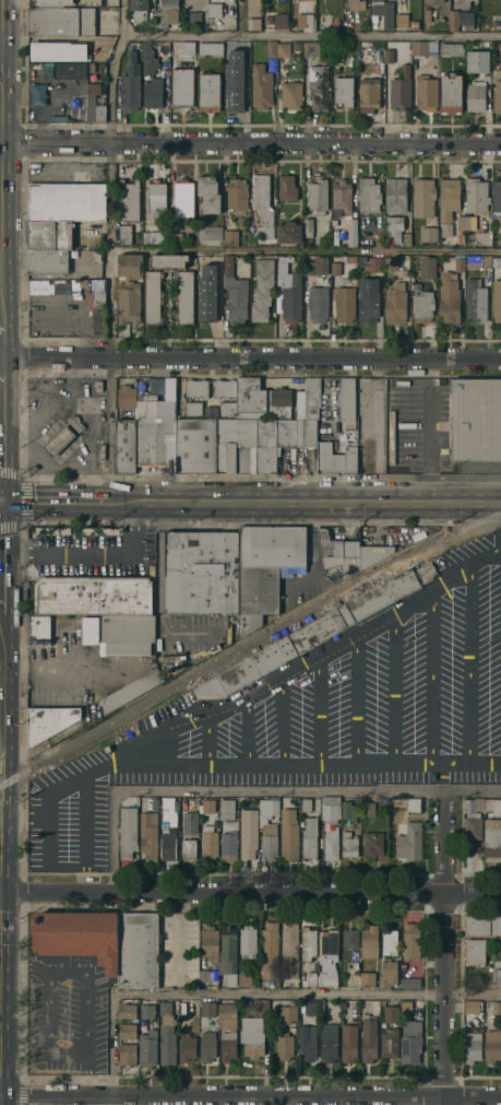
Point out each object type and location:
building: (52, 1)
building: (433, 1)
building: (356, 3)
building: (239, 4)
building: (214, 8)
building: (140, 9)
building: (383, 11)
building: (167, 12)
building: (194, 16)
building: (460, 17)
building: (267, 19)
building: (363, 19)
building: (403, 19)
building: (61, 20)
building: (281, 20)
building: (305, 21)
building: (335, 21)
building: (254, 23)
road: (312, 35)
building: (297, 43)
building: (187, 46)
building: (422, 46)
building: (210, 47)
building: (310, 47)
building: (451, 47)
building: (271, 48)
building: (283, 48)
building: (58, 49)
road: (1, 51)
building: (372, 52)
building: (337, 55)
building: (389, 55)
building: (242, 56)
building: (148, 57)
building: (477, 60)
building: (72, 69)
road: (111, 70)
building: (486, 75)
building: (130, 82)
building: (261, 85)
building: (318, 85)
building: (181, 86)
building: (232, 87)
building: (401, 89)
building: (343, 90)
building: (152, 91)
building: (208, 91)
building: (426, 91)
building: (368, 92)
building: (451, 92)
building: (497, 93)
building: (37, 94)
building: (290, 94)
building: (475, 95)
building: (93, 103)
road: (58, 143)
road: (307, 143)
road: (2, 160)
building: (286, 186)
building: (236, 191)
building: (208, 192)
building: (341, 193)
building: (368, 193)
building: (395, 193)
building: (476, 193)
building: (318, 195)
building: (422, 196)
building: (156, 197)
building: (183, 197)
building: (448, 197)
building: (129, 199)
building: (65, 200)
building: (497, 200)
building: (262, 205)
building: (461, 221)
building: (308, 225)
building: (393, 228)
building: (446, 228)
building: (350, 230)
building: (210, 231)
building: (289, 231)
building: (129, 233)
building: (428, 233)
building: (49, 234)
building: (146, 236)
building: (230, 236)
building: (176, 237)
building: (406, 237)
road: (307, 248)
road: (112, 251)
building: (284, 257)
building: (351, 258)
building: (168, 259)
building: (47, 260)
building: (216, 260)
building: (497, 260)
building: (477, 261)
building: (374, 262)
building: (129, 263)
building: (228, 263)
building: (309, 263)
building: (321, 263)
building: (458, 263)
building: (281, 266)
building: (390, 266)
building: (428, 266)
building: (335, 267)
building: (262, 287)
building: (289, 294)
building: (152, 295)
building: (183, 295)
building: (96, 296)
building: (448, 297)
building: (368, 298)
building: (475, 298)
building: (237, 299)
building: (497, 299)
building: (345, 301)
building: (128, 302)
building: (318, 302)
building: (395, 302)
building: (206, 304)
building: (422, 305)
road: (1, 339)
road: (56, 360)
road: (307, 360)
road: (0, 367)
road: (43, 375)
building: (148, 386)
building: (195, 387)
road: (71, 389)
building: (126, 395)
building: (215, 396)
building: (251, 397)
building: (346, 397)
building: (309, 398)
building: (278, 400)
road: (39, 405)
building: (193, 407)
building: (166, 411)
building: (210, 412)
road: (0, 415)
building: (476, 419)
road: (19, 421)
building: (74, 422)
building: (349, 423)
road: (112, 430)
building: (307, 432)
building: (58, 439)
building: (154, 439)
building: (273, 440)
building: (123, 444)
building: (196, 445)
building: (226, 445)
building: (246, 445)
road: (430, 446)
building: (365, 455)
building: (335, 458)
road: (59, 462)
road: (40, 480)
road: (57, 501)
road: (307, 502)
building: (159, 542)
building: (330, 548)
road: (93, 552)
building: (361, 554)
building: (266, 567)
road: (0, 571)
building: (151, 571)
building: (201, 572)
building: (92, 593)
building: (381, 595)
building: (234, 628)
building: (38, 630)
building: (90, 631)
building: (126, 633)
railway: (248, 645)
road: (325, 648)
building: (276, 653)
road: (0, 667)
road: (61, 667)
road: (468, 668)
road: (1, 673)
road: (431, 679)
building: (210, 686)
building: (132, 689)
road: (392, 689)
parking lot: (357, 697)
road: (357, 698)
road: (321, 708)
building: (49, 720)
road: (278, 720)
road: (244, 729)
road: (1, 740)
road: (205, 740)
road: (278, 767)
road: (466, 767)
road: (442, 777)
road: (70, 786)
road: (473, 787)
road: (229, 788)
building: (186, 802)
building: (306, 803)
building: (413, 803)
building: (155, 804)
building: (482, 804)
building: (206, 806)
building: (226, 808)
building: (368, 808)
building: (168, 810)
building: (347, 811)
parking lot: (71, 816)
building: (190, 819)
building: (214, 819)
building: (330, 825)
building: (473, 825)
building: (267, 826)
building: (127, 831)
building: (248, 832)
building: (288, 833)
road: (85, 835)
building: (148, 835)
road: (1, 838)
building: (309, 838)
building: (492, 839)
building: (372, 842)
building: (409, 842)
building: (208, 844)
building: (348, 844)
building: (168, 845)
building: (188, 845)
building: (228, 845)
road: (0, 858)
road: (250, 893)
building: (410, 917)
building: (477, 924)
building: (496, 925)
building: (79, 936)
building: (349, 938)
building: (410, 940)
building: (247, 941)
building: (389, 941)
building: (208, 942)
building: (369, 942)
building: (308, 943)
road: (443, 945)
building: (138, 949)
building: (227, 950)
building: (270, 950)
building: (289, 950)
building: (474, 951)
building: (329, 957)
building: (355, 964)
road: (23, 967)
building: (387, 974)
building: (207, 975)
building: (498, 975)
building: (243, 978)
building: (312, 978)
building: (367, 978)
building: (409, 983)
road: (250, 995)
building: (258, 1004)
building: (374, 1006)
building: (470, 1006)
building: (311, 1007)
building: (406, 1007)
building: (497, 1007)
building: (184, 1008)
building: (207, 1008)
building: (127, 1010)
building: (146, 1010)
building: (226, 1011)
building: (288, 1012)
building: (391, 1013)
building: (498, 1016)
building: (128, 1031)
building: (166, 1035)
building: (252, 1036)
building: (368, 1038)
building: (307, 1042)
building: (329, 1042)
building: (348, 1042)
building: (410, 1042)
building: (390, 1043)
building: (227, 1044)
building: (284, 1045)
building: (187, 1046)
building: (207, 1046)
building: (472, 1046)
building: (492, 1046)
building: (147, 1048)
road: (82, 1050)
building: (127, 1054)
road: (85, 1072)
road: (250, 1098)

